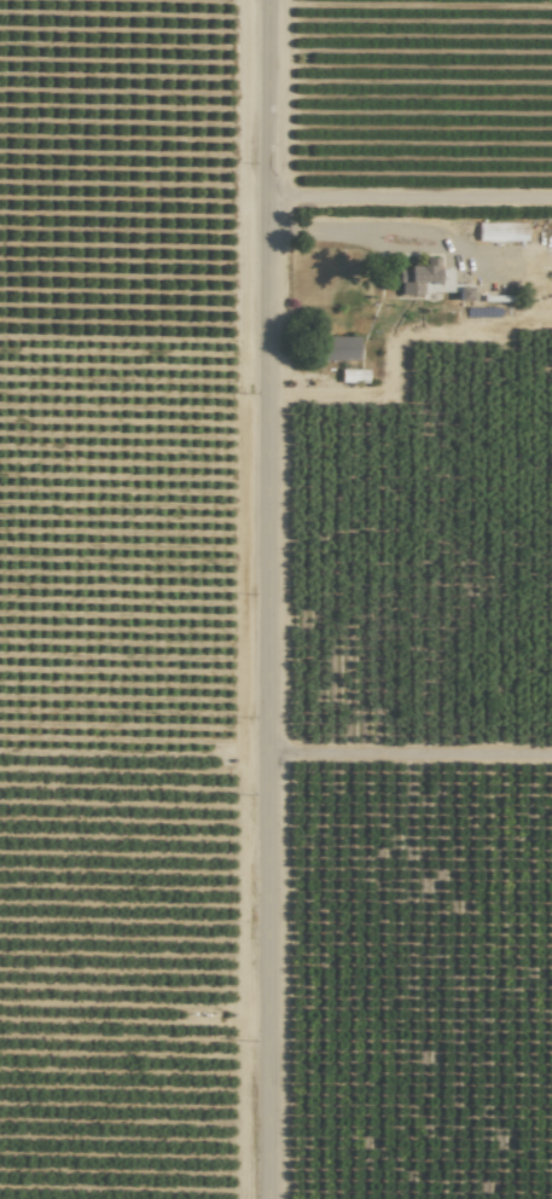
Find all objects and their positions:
building: (500, 231)
road: (344, 239)
building: (416, 277)
building: (341, 347)
road: (274, 598)

